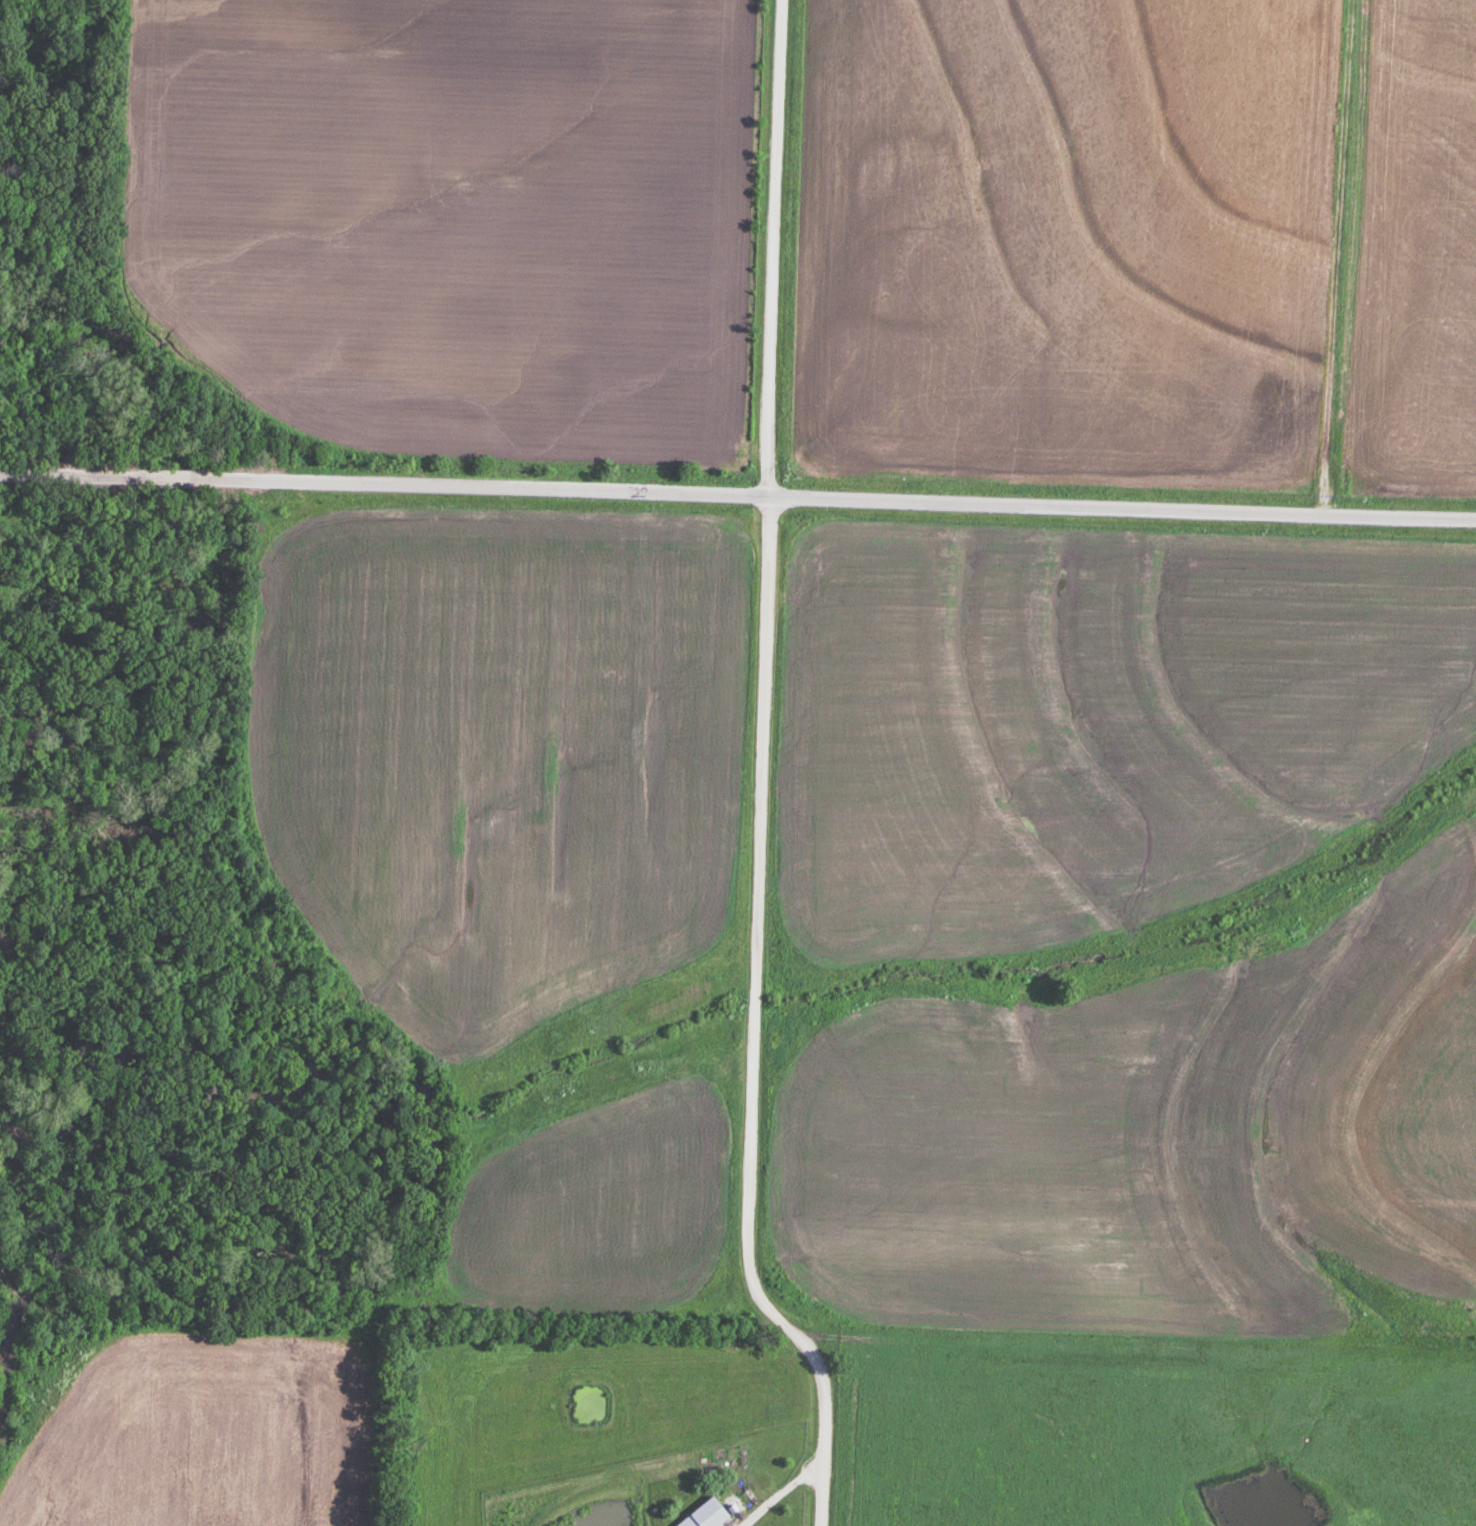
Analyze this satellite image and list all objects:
building: (1324, 213)
road: (1359, 261)
road: (738, 501)
road: (762, 779)
road: (781, 1490)
building: (706, 1514)

